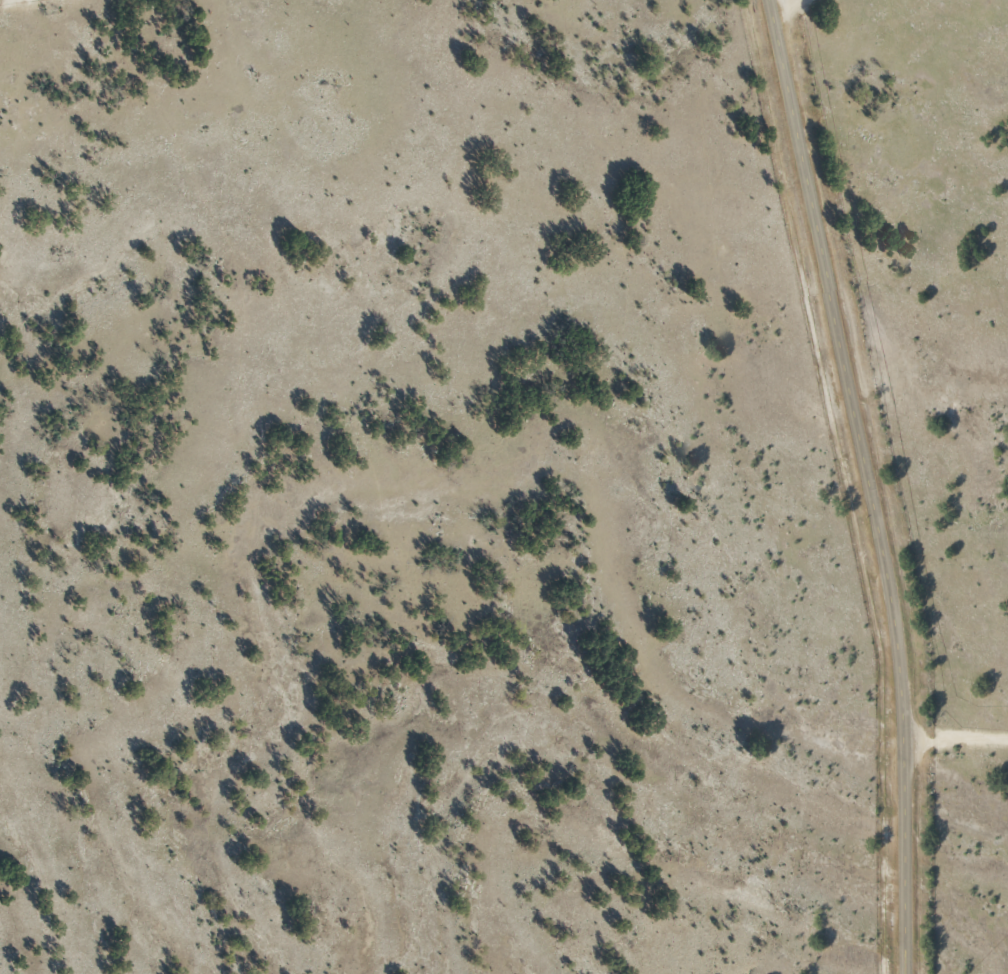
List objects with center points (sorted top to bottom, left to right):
road: (868, 483)

